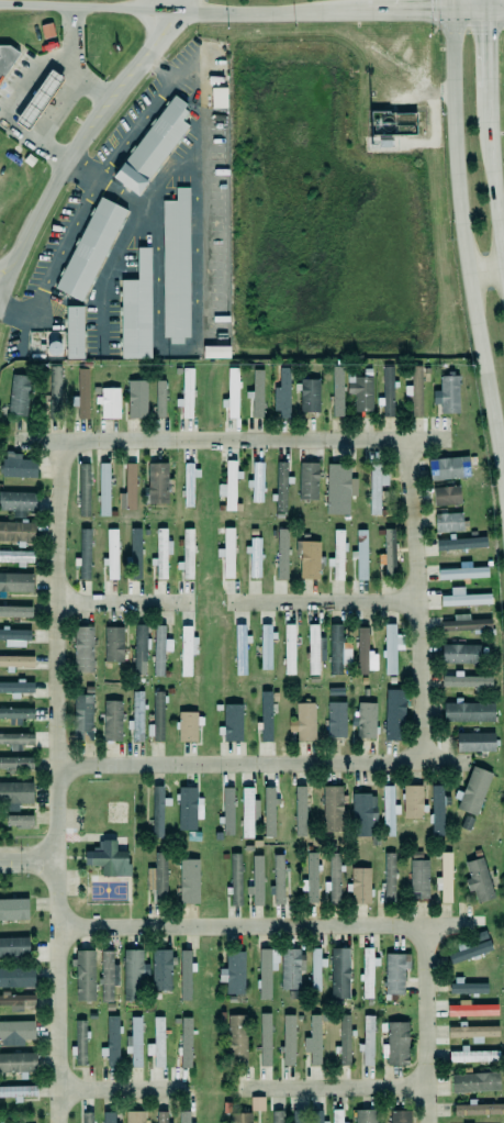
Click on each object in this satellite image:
road: (169, 5)
road: (450, 7)
road: (488, 7)
road: (85, 9)
road: (495, 12)
road: (408, 13)
traffic signals: (451, 13)
road: (469, 13)
traffic signals: (488, 13)
road: (267, 14)
building: (48, 35)
road: (488, 49)
road: (74, 60)
road: (161, 66)
building: (2, 69)
building: (219, 93)
building: (38, 100)
road: (49, 120)
road: (136, 131)
road: (79, 142)
building: (153, 146)
road: (80, 175)
road: (491, 176)
building: (89, 247)
road: (466, 251)
road: (59, 252)
building: (176, 267)
road: (486, 269)
road: (4, 287)
building: (135, 308)
road: (10, 314)
building: (72, 330)
building: (216, 352)
building: (337, 391)
building: (388, 391)
building: (55, 392)
building: (281, 392)
building: (360, 392)
building: (414, 392)
building: (19, 393)
building: (82, 393)
building: (187, 393)
building: (232, 393)
building: (257, 394)
building: (447, 394)
building: (310, 396)
building: (159, 398)
building: (137, 399)
building: (110, 402)
road: (234, 438)
building: (16, 465)
building: (447, 466)
building: (255, 481)
building: (309, 481)
building: (156, 482)
building: (189, 483)
building: (227, 485)
building: (127, 486)
building: (281, 487)
building: (339, 488)
building: (376, 488)
building: (82, 489)
building: (103, 489)
building: (446, 496)
building: (18, 502)
building: (448, 522)
building: (16, 532)
building: (461, 543)
building: (111, 552)
building: (159, 553)
building: (227, 553)
building: (85, 554)
building: (135, 554)
building: (188, 554)
building: (281, 554)
building: (361, 554)
building: (389, 554)
building: (337, 555)
building: (15, 556)
building: (254, 558)
building: (309, 559)
building: (463, 572)
building: (15, 581)
building: (464, 598)
road: (417, 600)
road: (322, 601)
road: (124, 602)
building: (14, 610)
building: (466, 623)
building: (14, 633)
building: (113, 644)
building: (265, 646)
building: (288, 647)
building: (239, 648)
building: (83, 649)
building: (139, 649)
building: (160, 649)
building: (187, 649)
building: (314, 649)
building: (337, 649)
building: (391, 649)
building: (365, 653)
building: (460, 654)
building: (16, 661)
building: (467, 681)
building: (15, 686)
building: (468, 712)
building: (16, 713)
building: (393, 713)
building: (81, 715)
building: (137, 716)
building: (158, 716)
building: (266, 716)
building: (111, 719)
building: (336, 720)
building: (365, 721)
building: (233, 722)
building: (304, 722)
building: (188, 726)
building: (15, 738)
building: (474, 741)
building: (15, 761)
road: (261, 764)
road: (56, 780)
building: (15, 791)
building: (474, 791)
building: (412, 802)
building: (187, 807)
building: (331, 808)
building: (157, 810)
building: (247, 810)
building: (387, 810)
building: (227, 811)
building: (268, 811)
building: (300, 811)
building: (362, 814)
building: (19, 821)
building: (467, 823)
road: (10, 859)
road: (38, 859)
building: (108, 859)
building: (310, 876)
building: (445, 876)
building: (158, 878)
building: (334, 878)
building: (389, 878)
building: (234, 879)
building: (256, 879)
building: (278, 879)
building: (419, 879)
building: (479, 880)
building: (189, 881)
building: (359, 886)
building: (13, 908)
road: (262, 924)
building: (13, 945)
building: (470, 947)
building: (290, 967)
building: (315, 968)
building: (265, 969)
building: (160, 970)
building: (234, 970)
building: (368, 971)
building: (394, 971)
building: (339, 972)
building: (134, 975)
building: (183, 975)
building: (85, 976)
building: (108, 976)
building: (16, 977)
building: (467, 987)
building: (292, 993)
building: (16, 999)
building: (471, 1009)
road: (427, 1023)
building: (15, 1031)
building: (473, 1033)
building: (235, 1039)
building: (265, 1039)
building: (315, 1039)
building: (345, 1039)
building: (367, 1039)
building: (157, 1041)
building: (288, 1041)
building: (112, 1042)
building: (133, 1042)
building: (186, 1042)
building: (80, 1043)
building: (396, 1044)
building: (471, 1054)
building: (16, 1060)
building: (474, 1082)
road: (332, 1088)
road: (123, 1089)
building: (19, 1091)
building: (257, 1103)
building: (479, 1109)
building: (366, 1115)
building: (134, 1116)
building: (161, 1116)
building: (182, 1116)
building: (277, 1116)
building: (317, 1116)
building: (337, 1116)
building: (399, 1116)
building: (87, 1118)
building: (108, 1118)
building: (240, 1118)

